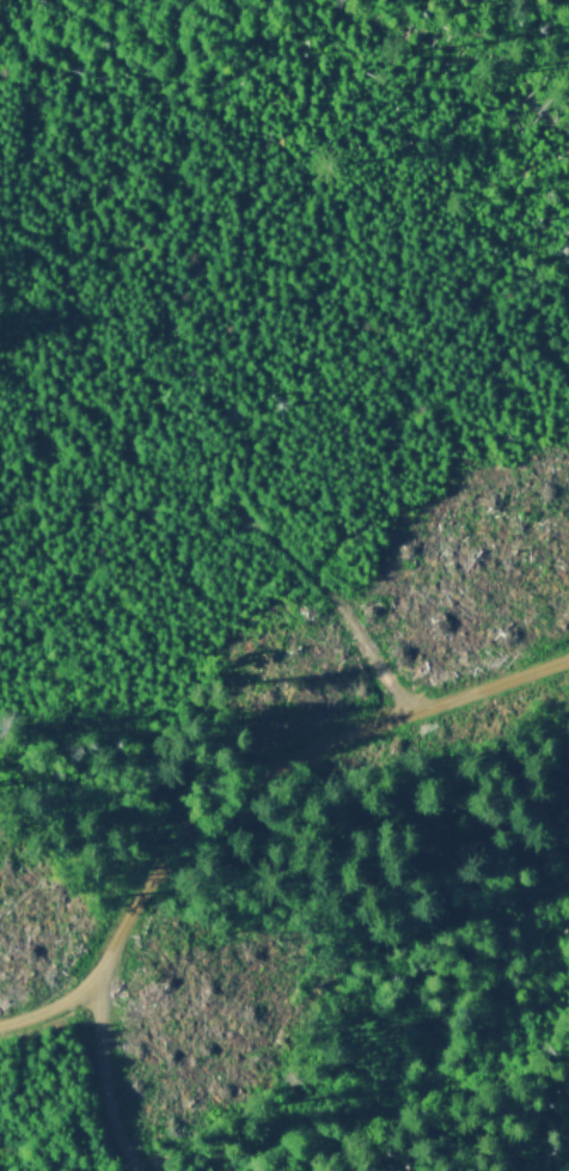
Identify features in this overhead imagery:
road: (255, 771)
road: (109, 1090)

